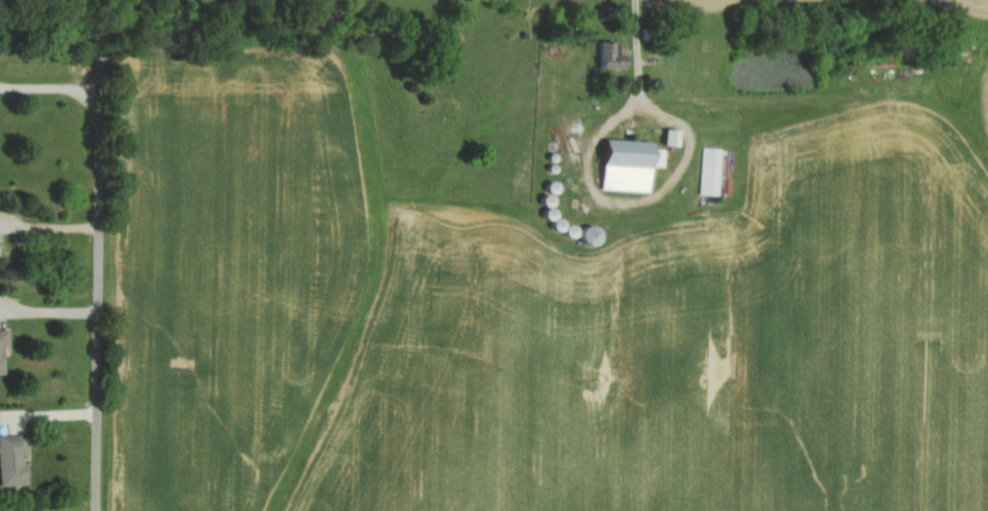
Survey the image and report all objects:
road: (636, 56)
building: (613, 57)
road: (50, 89)
building: (631, 165)
building: (713, 171)
road: (50, 227)
road: (99, 255)
road: (49, 312)
building: (4, 349)
road: (48, 415)
building: (14, 460)

